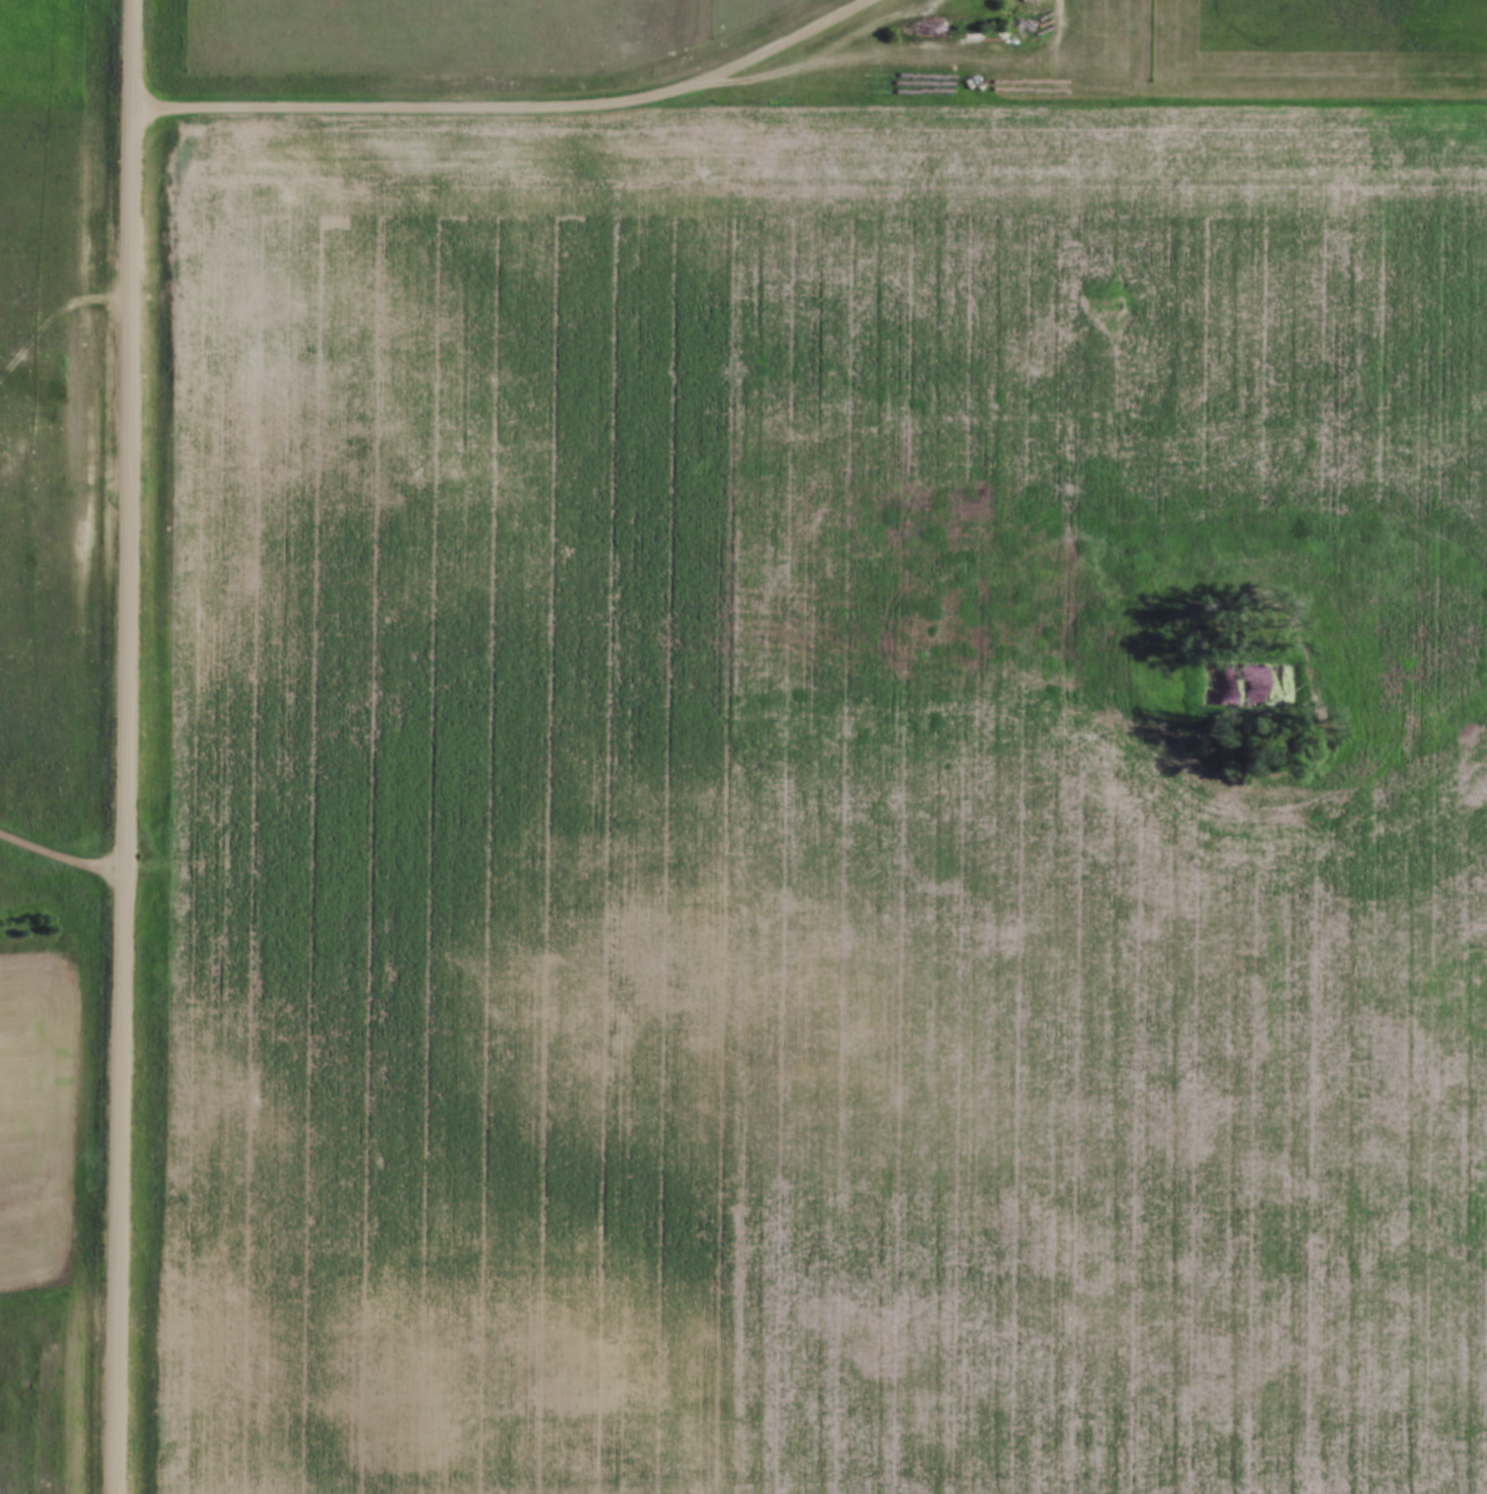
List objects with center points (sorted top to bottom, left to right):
road: (511, 106)
road: (54, 316)
road: (128, 747)
road: (62, 855)

